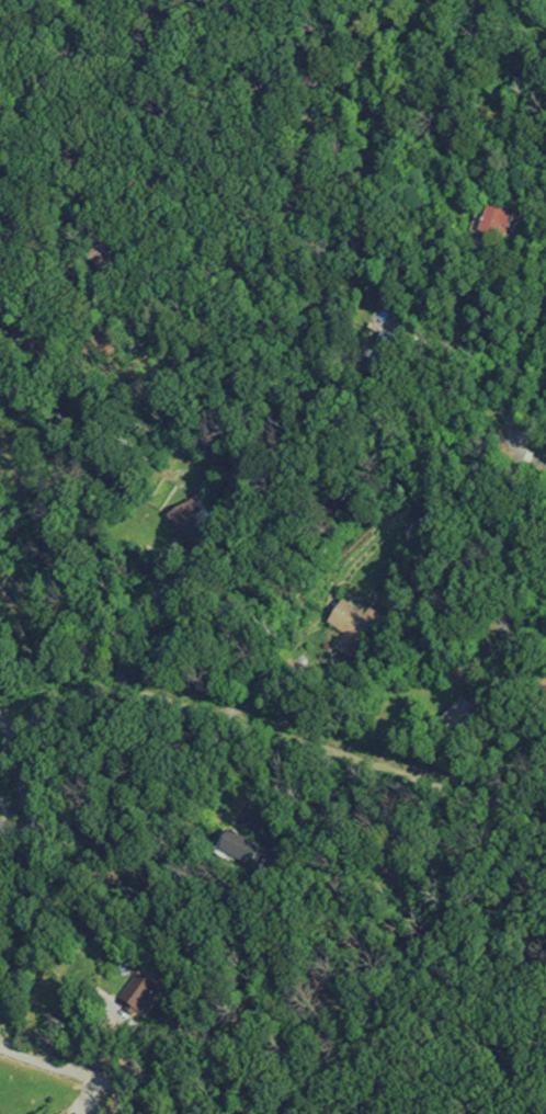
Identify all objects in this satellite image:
building: (497, 224)
road: (501, 275)
road: (465, 353)
road: (531, 407)
road: (446, 454)
road: (531, 458)
building: (184, 522)
road: (141, 624)
building: (350, 628)
building: (460, 716)
road: (238, 725)
building: (232, 846)
road: (33, 857)
building: (134, 1002)
road: (105, 1077)
building: (58, 1113)

